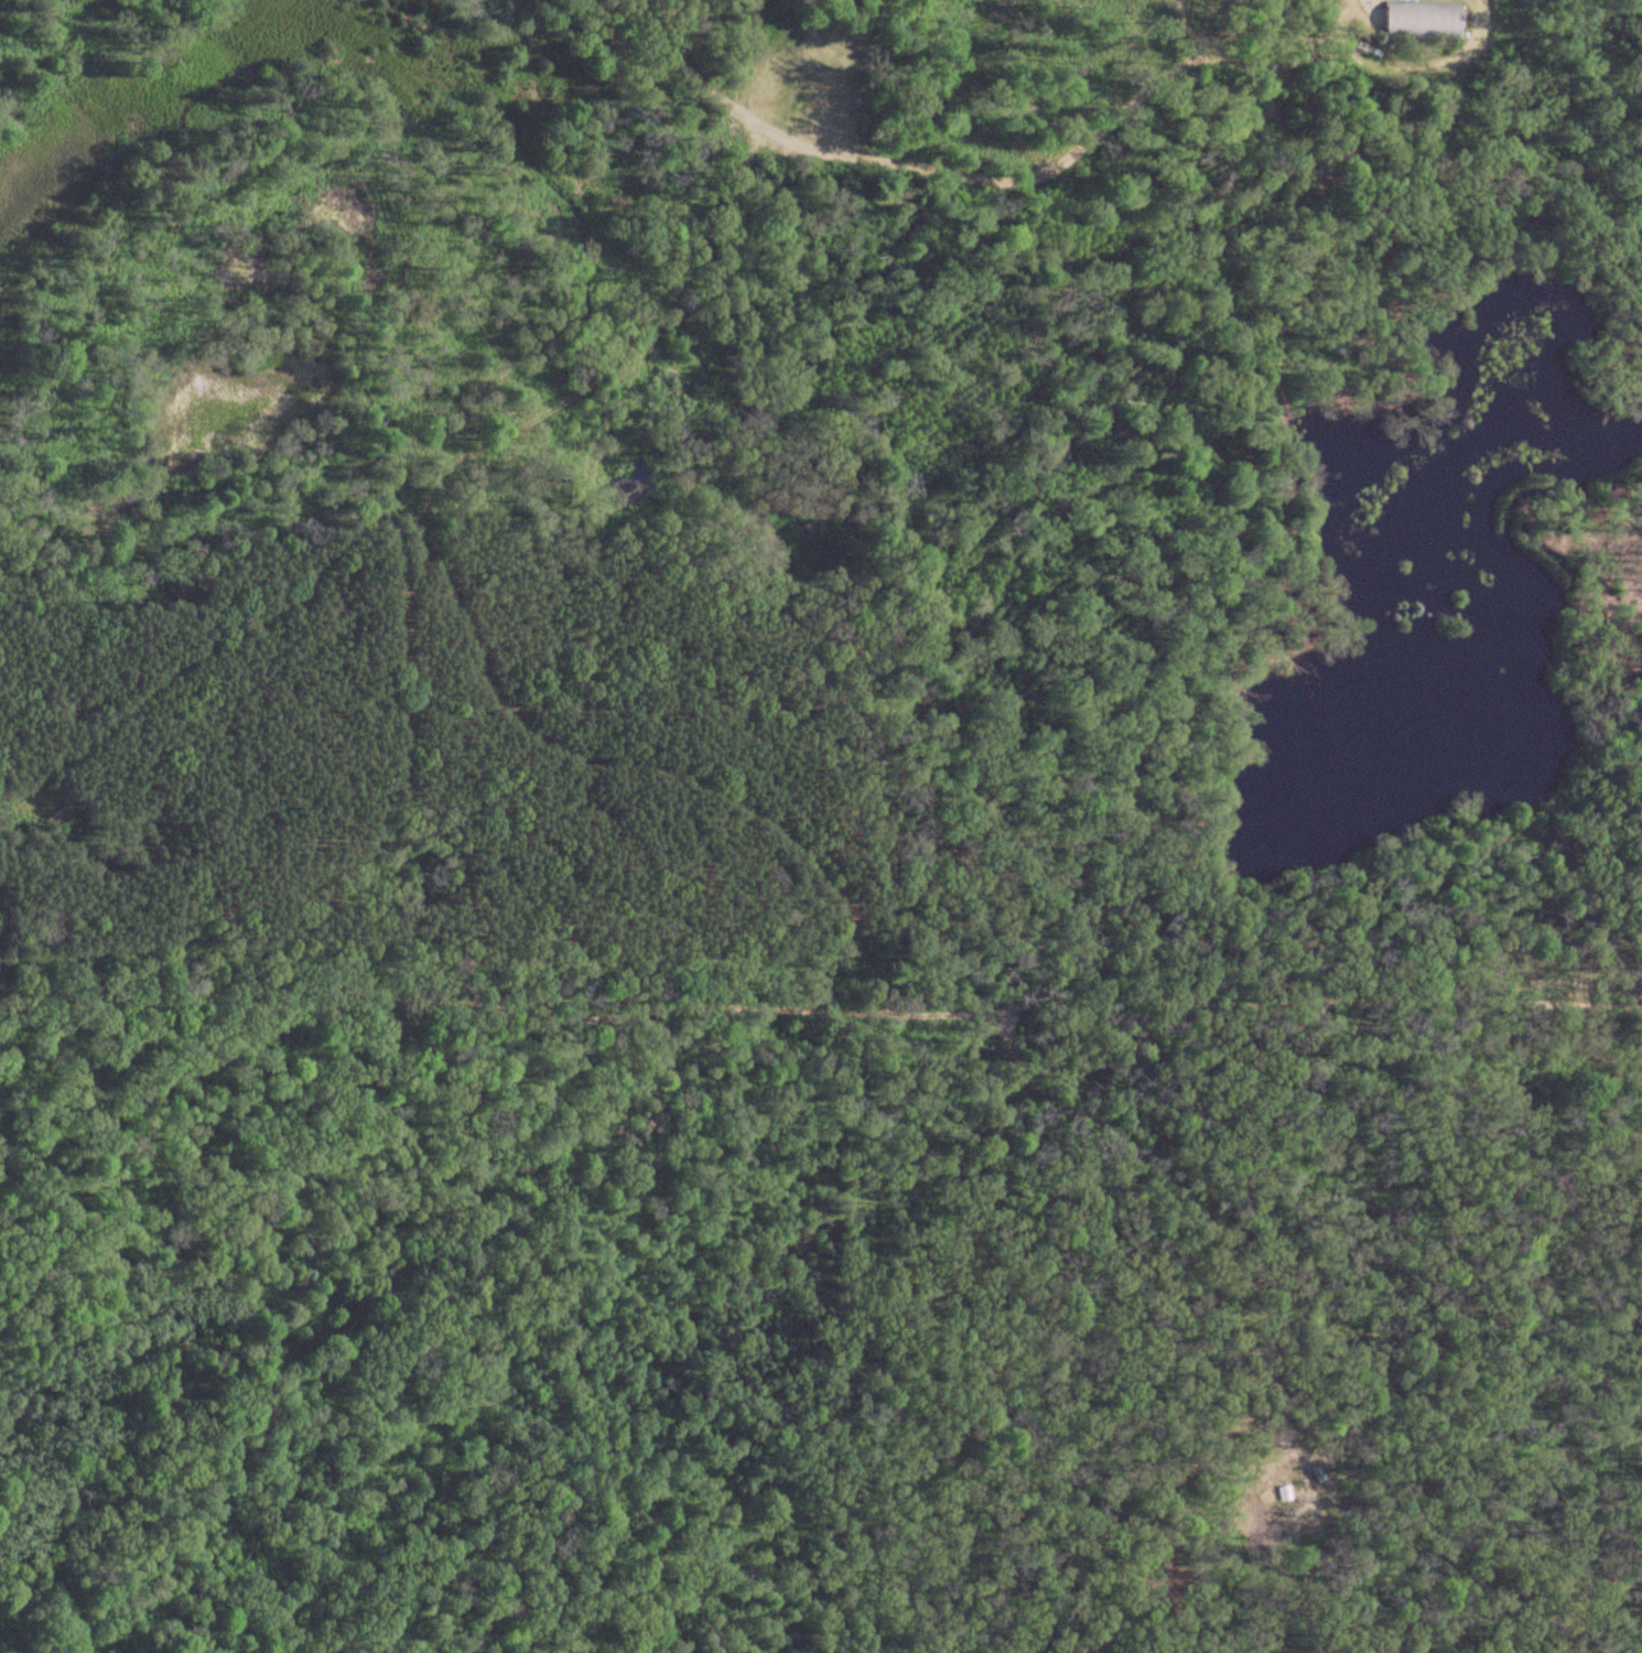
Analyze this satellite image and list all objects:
road: (818, 968)
road: (1262, 1236)
road: (1296, 1460)

